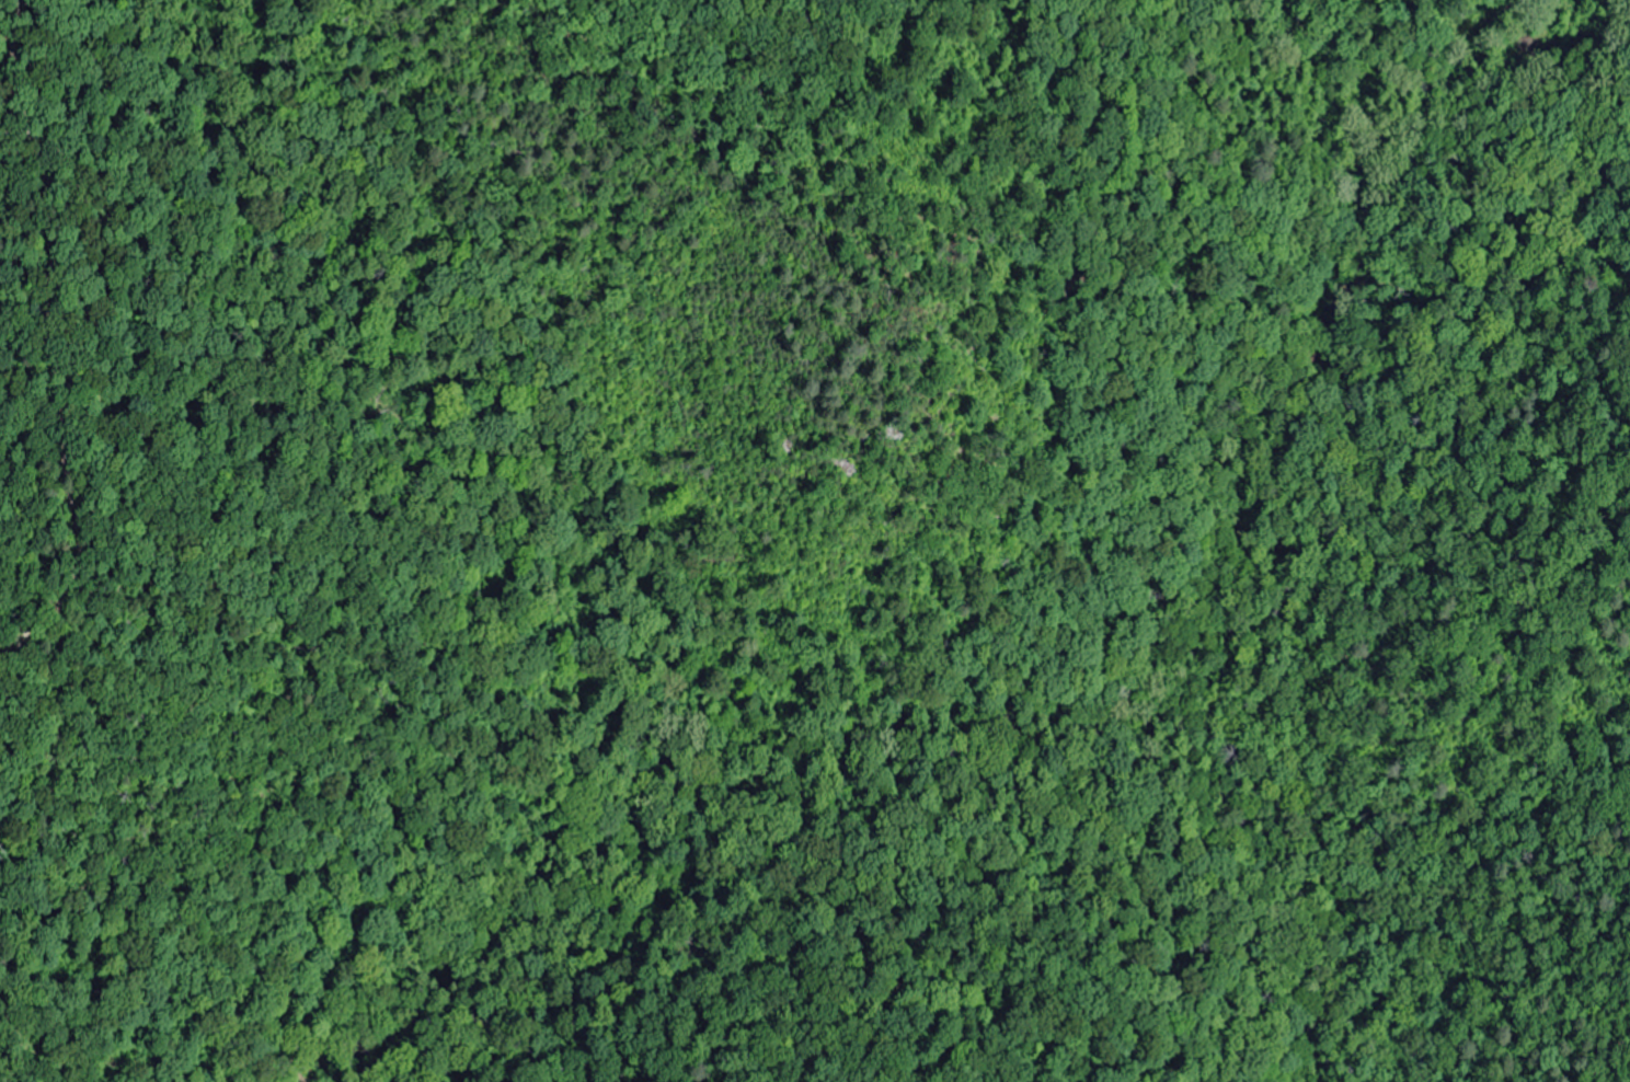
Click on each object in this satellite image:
road: (73, 347)

